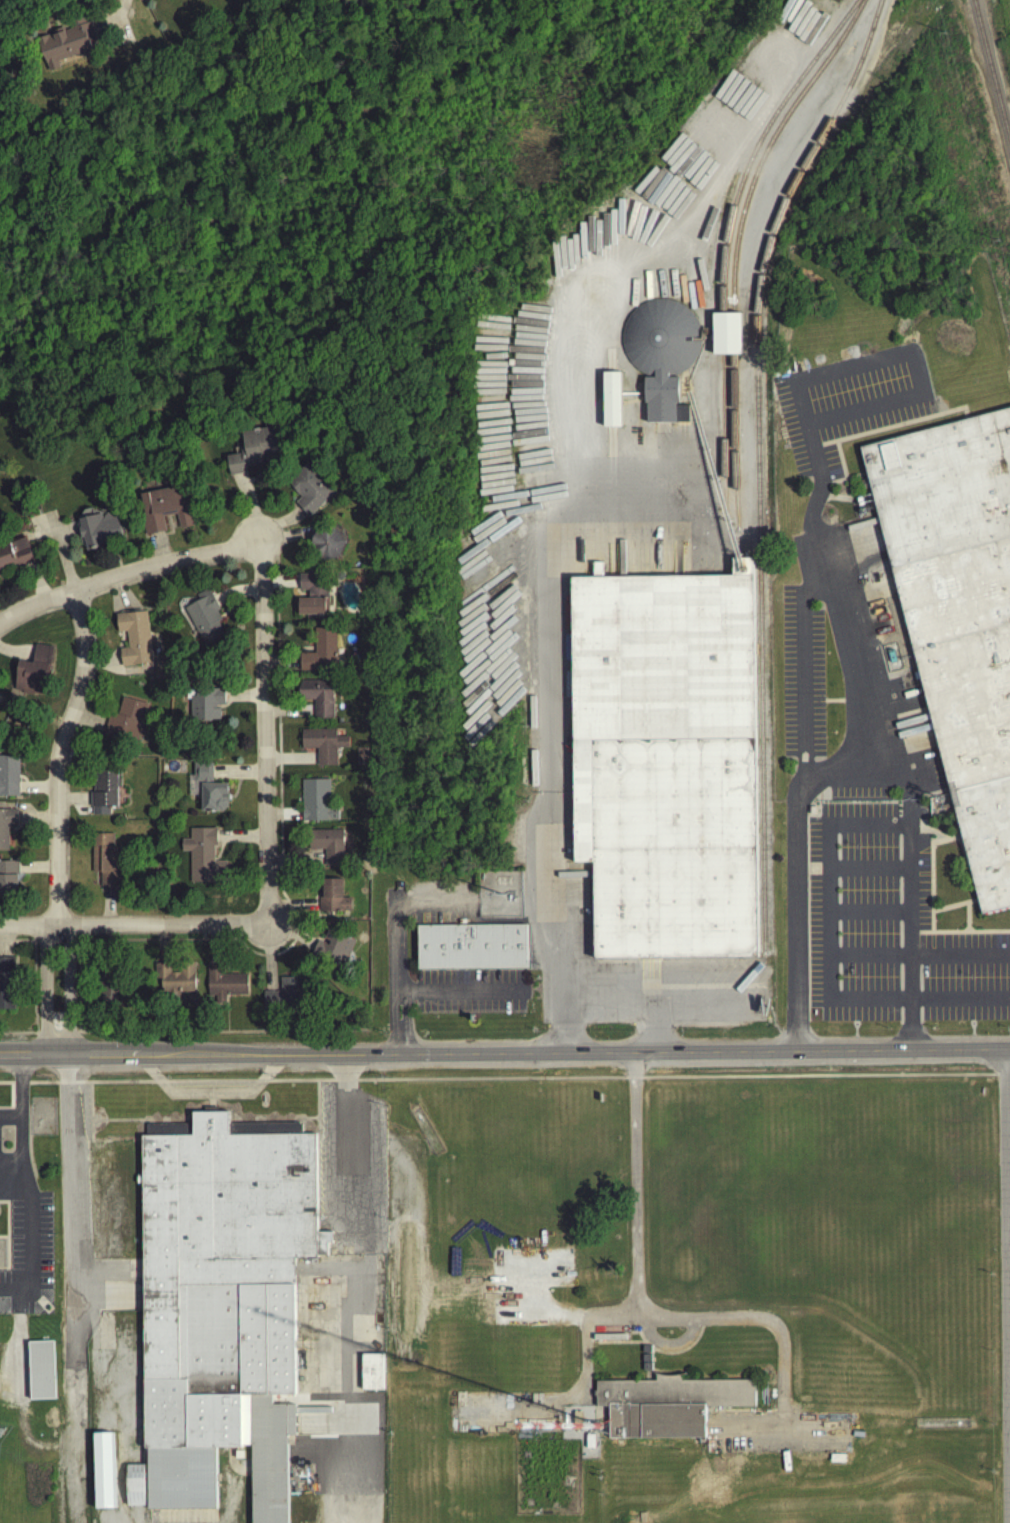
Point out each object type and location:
building: (62, 49)
railway: (993, 68)
railway: (728, 240)
railway: (736, 257)
building: (726, 338)
building: (660, 358)
road: (916, 379)
building: (611, 404)
road: (802, 408)
road: (965, 423)
building: (253, 454)
railway: (757, 466)
building: (309, 492)
road: (249, 509)
building: (165, 512)
road: (278, 526)
building: (99, 533)
road: (284, 539)
building: (326, 547)
road: (158, 553)
building: (16, 558)
road: (62, 560)
road: (258, 564)
road: (127, 579)
road: (36, 586)
road: (279, 586)
road: (235, 595)
building: (312, 598)
road: (120, 601)
road: (86, 606)
road: (71, 609)
building: (958, 618)
building: (204, 621)
road: (28, 622)
building: (134, 642)
building: (319, 655)
road: (16, 656)
road: (280, 666)
road: (117, 673)
building: (33, 675)
road: (802, 677)
road: (90, 681)
road: (243, 699)
building: (318, 701)
road: (841, 703)
building: (205, 709)
road: (287, 715)
road: (87, 724)
building: (127, 725)
road: (543, 730)
road: (262, 735)
parking lot: (863, 746)
building: (322, 748)
road: (855, 750)
road: (56, 761)
road: (289, 763)
road: (894, 763)
building: (665, 767)
road: (237, 776)
building: (9, 780)
road: (36, 791)
building: (209, 793)
building: (103, 795)
road: (72, 803)
building: (317, 805)
road: (282, 818)
road: (35, 820)
building: (6, 829)
road: (944, 829)
road: (913, 831)
road: (935, 833)
road: (239, 842)
building: (325, 849)
road: (960, 856)
building: (203, 860)
building: (103, 862)
road: (294, 863)
road: (930, 865)
road: (35, 871)
road: (828, 874)
road: (868, 874)
road: (932, 878)
building: (8, 882)
parking lot: (443, 895)
power substation: (498, 898)
building: (332, 901)
road: (972, 905)
road: (107, 910)
road: (291, 910)
road: (952, 910)
road: (292, 912)
road: (964, 912)
road: (868, 915)
parking lot: (441, 916)
street lamp: (81, 918)
road: (966, 921)
road: (395, 922)
road: (500, 924)
road: (70, 930)
road: (160, 930)
road: (27, 931)
road: (962, 937)
road: (909, 938)
road: (912, 938)
road: (290, 940)
road: (111, 942)
road: (54, 944)
road: (3, 945)
road: (77, 945)
road: (32, 946)
road: (161, 948)
road: (214, 948)
building: (471, 952)
building: (332, 954)
road: (919, 958)
road: (268, 962)
road: (474, 974)
road: (32, 976)
building: (109, 981)
building: (175, 981)
road: (426, 984)
building: (6, 987)
building: (224, 987)
road: (43, 992)
road: (67, 993)
road: (459, 993)
parking lot: (469, 995)
building: (284, 998)
road: (397, 1003)
road: (656, 1003)
road: (919, 1006)
road: (657, 1030)
road: (221, 1035)
road: (55, 1037)
road: (18, 1038)
road: (401, 1045)
road: (761, 1055)
road: (130, 1059)
road: (351, 1059)
road: (58, 1060)
road: (8, 1061)
road: (31, 1061)
road: (70, 1073)
road: (1003, 1079)
road: (996, 1080)
road: (537, 1083)
road: (18, 1087)
road: (41, 1087)
road: (63, 1087)
road: (74, 1087)
road: (5, 1088)
road: (210, 1092)
road: (9, 1100)
parking lot: (214, 1100)
road: (210, 1104)
road: (89, 1116)
road: (316, 1119)
road: (18, 1121)
road: (303, 1122)
road: (121, 1124)
building: (424, 1134)
road: (1009, 1150)
parking lot: (350, 1175)
road: (340, 1219)
parking lot: (23, 1226)
road: (29, 1239)
road: (108, 1272)
road: (108, 1302)
road: (74, 1305)
building: (221, 1305)
road: (15, 1306)
road: (637, 1307)
road: (637, 1320)
road: (702, 1326)
parking lot: (613, 1330)
road: (782, 1341)
road: (668, 1343)
road: (671, 1345)
road: (589, 1347)
road: (341, 1367)
building: (41, 1374)
building: (371, 1376)
building: (669, 1402)
road: (19, 1407)
road: (117, 1411)
building: (579, 1418)
road: (586, 1420)
building: (941, 1427)
road: (813, 1436)
building: (592, 1438)
road: (232, 1471)
building: (103, 1475)
building: (134, 1489)

